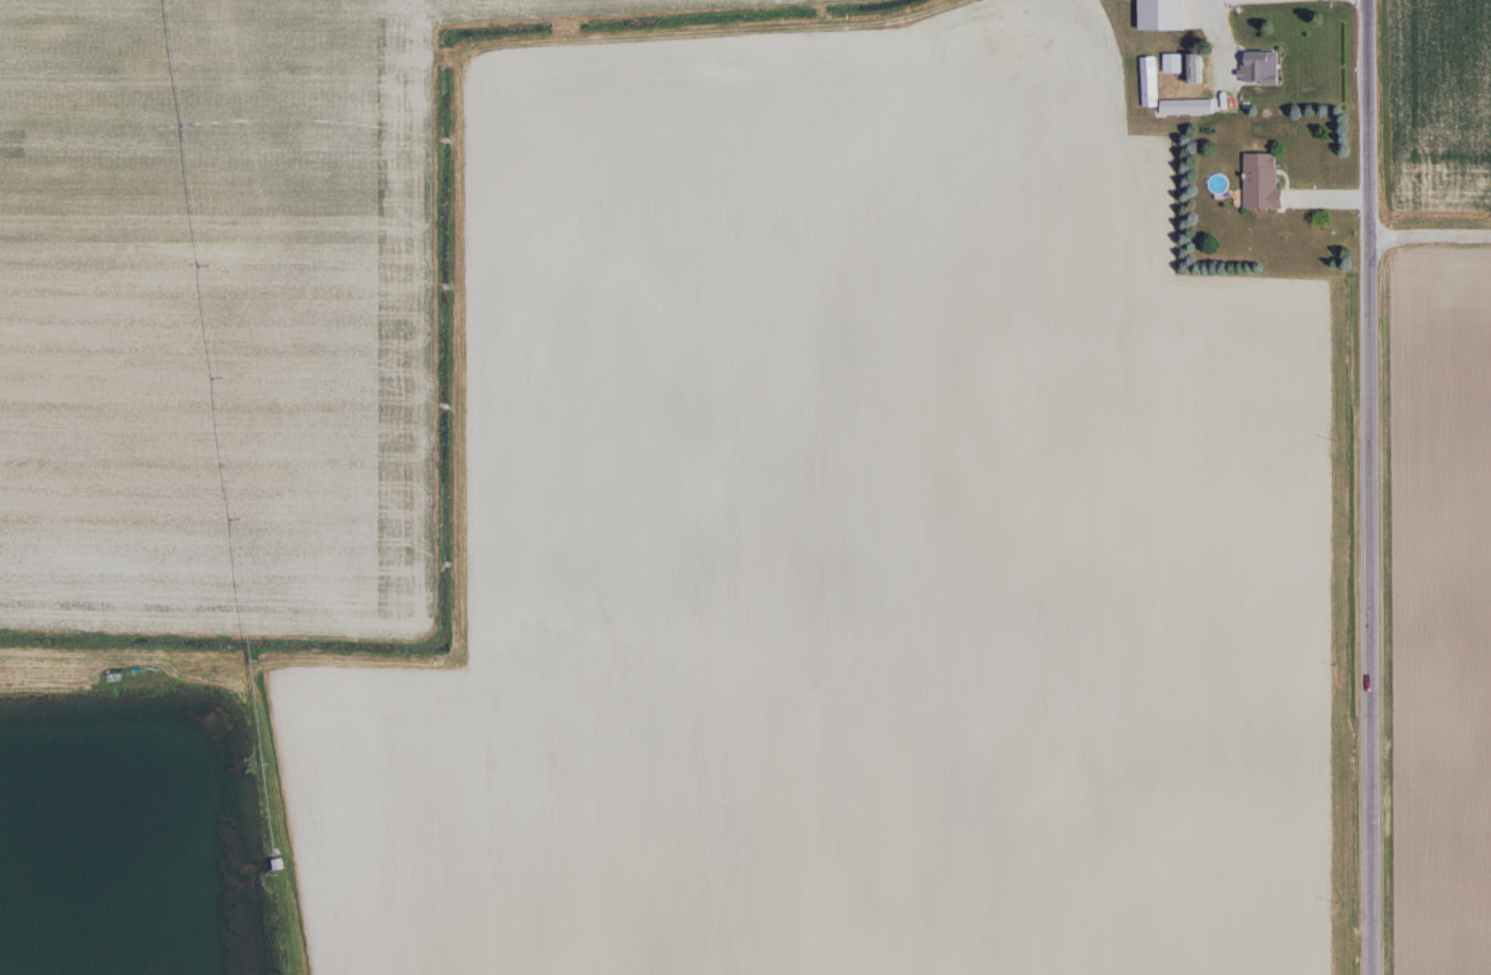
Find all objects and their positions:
building: (1162, 14)
building: (1174, 63)
building: (1259, 67)
building: (1195, 68)
building: (1150, 82)
building: (1187, 107)
building: (1262, 181)
road: (1429, 229)
road: (1367, 487)

